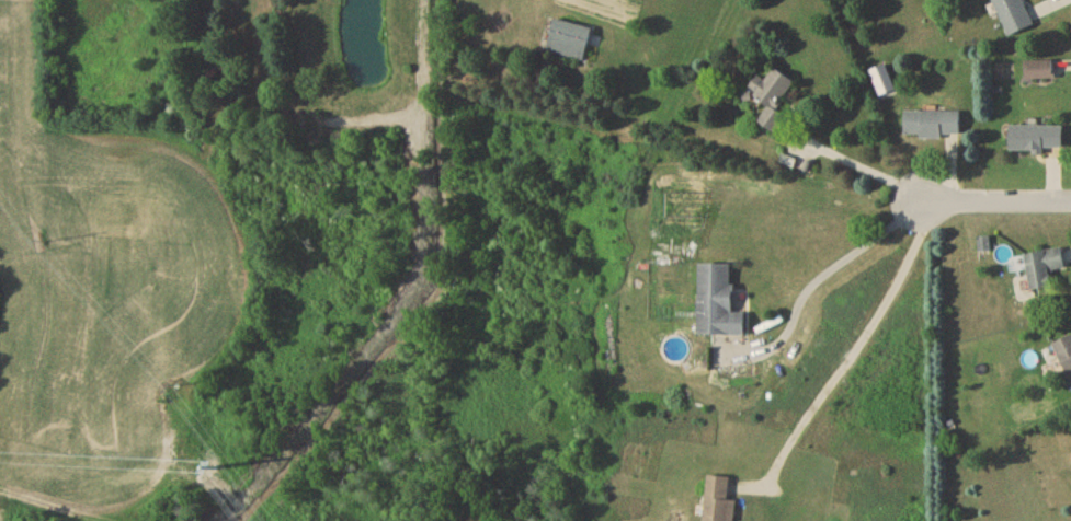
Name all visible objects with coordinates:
building: (1013, 16)
building: (570, 43)
building: (1040, 73)
building: (773, 101)
building: (934, 127)
building: (1037, 141)
road: (862, 166)
road: (996, 205)
building: (1044, 270)
road: (824, 277)
building: (719, 306)
road: (858, 349)
building: (1066, 356)
power tower: (215, 468)
road: (37, 500)
building: (719, 500)

